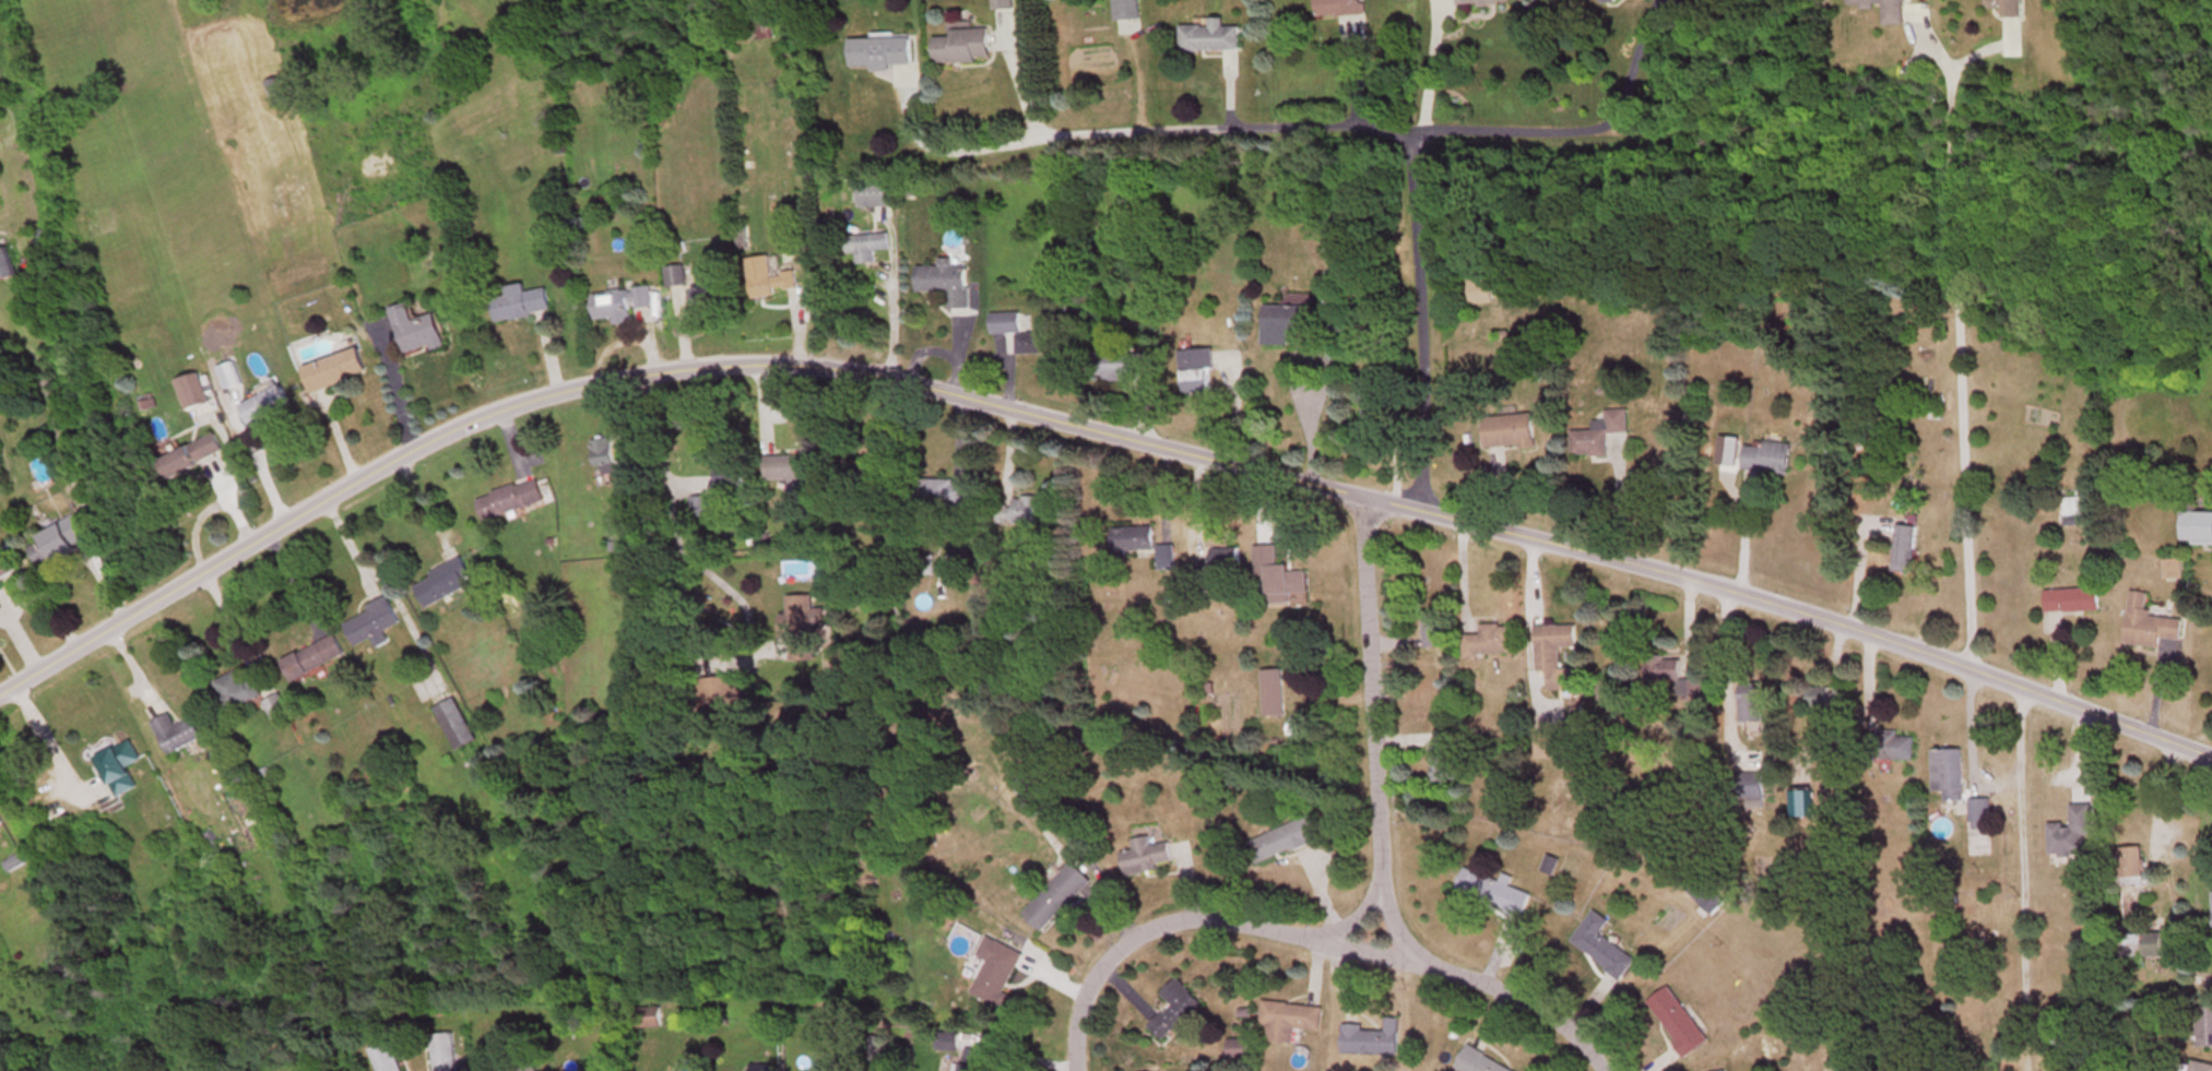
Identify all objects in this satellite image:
building: (1612, 0)
building: (1487, 2)
building: (1005, 5)
building: (1341, 9)
building: (2010, 9)
building: (1886, 10)
building: (1128, 17)
building: (1210, 39)
building: (961, 48)
building: (882, 55)
road: (1432, 61)
building: (277, 95)
road: (1573, 117)
road: (991, 151)
road: (1418, 165)
building: (876, 197)
building: (867, 249)
building: (7, 267)
building: (769, 281)
building: (946, 285)
building: (1481, 294)
building: (709, 301)
building: (522, 306)
building: (623, 306)
building: (1287, 325)
building: (417, 333)
building: (1020, 336)
building: (1117, 370)
building: (1197, 371)
building: (335, 372)
building: (194, 393)
building: (1373, 398)
building: (267, 408)
road: (1086, 431)
building: (1511, 435)
building: (1599, 438)
building: (193, 459)
building: (604, 459)
building: (1770, 461)
building: (794, 473)
building: (731, 478)
building: (944, 496)
building: (511, 502)
road: (673, 503)
building: (700, 509)
building: (1020, 513)
building: (2074, 513)
building: (2197, 531)
building: (1135, 542)
building: (58, 545)
building: (1906, 552)
building: (1168, 560)
building: (1227, 562)
building: (7, 567)
road: (295, 582)
building: (443, 585)
building: (1279, 585)
building: (982, 600)
building: (2073, 604)
road: (236, 627)
building: (374, 627)
building: (2150, 627)
building: (804, 629)
building: (1435, 632)
building: (1492, 643)
building: (1558, 658)
building: (314, 659)
building: (1664, 674)
building: (238, 691)
building: (1613, 693)
building: (722, 697)
building: (1829, 699)
building: (1751, 705)
building: (276, 709)
road: (1368, 725)
building: (457, 726)
building: (177, 735)
road: (49, 742)
building: (1444, 758)
building: (120, 770)
building: (1949, 776)
building: (1003, 783)
building: (1752, 787)
building: (1800, 807)
building: (1, 823)
building: (2073, 836)
building: (1288, 841)
building: (1145, 859)
building: (14, 864)
building: (2132, 868)
building: (1499, 895)
building: (1706, 897)
building: (1057, 899)
road: (1174, 920)
building: (1673, 921)
building: (2157, 948)
building: (1602, 949)
building: (997, 973)
building: (2207, 980)
road: (1500, 993)
building: (1176, 1013)
building: (1290, 1022)
building: (1678, 1022)
building: (2205, 1027)
building: (1372, 1042)
building: (445, 1052)
building: (387, 1058)
building: (974, 1061)
building: (1478, 1063)
building: (2201, 1067)
building: (523, 1069)

